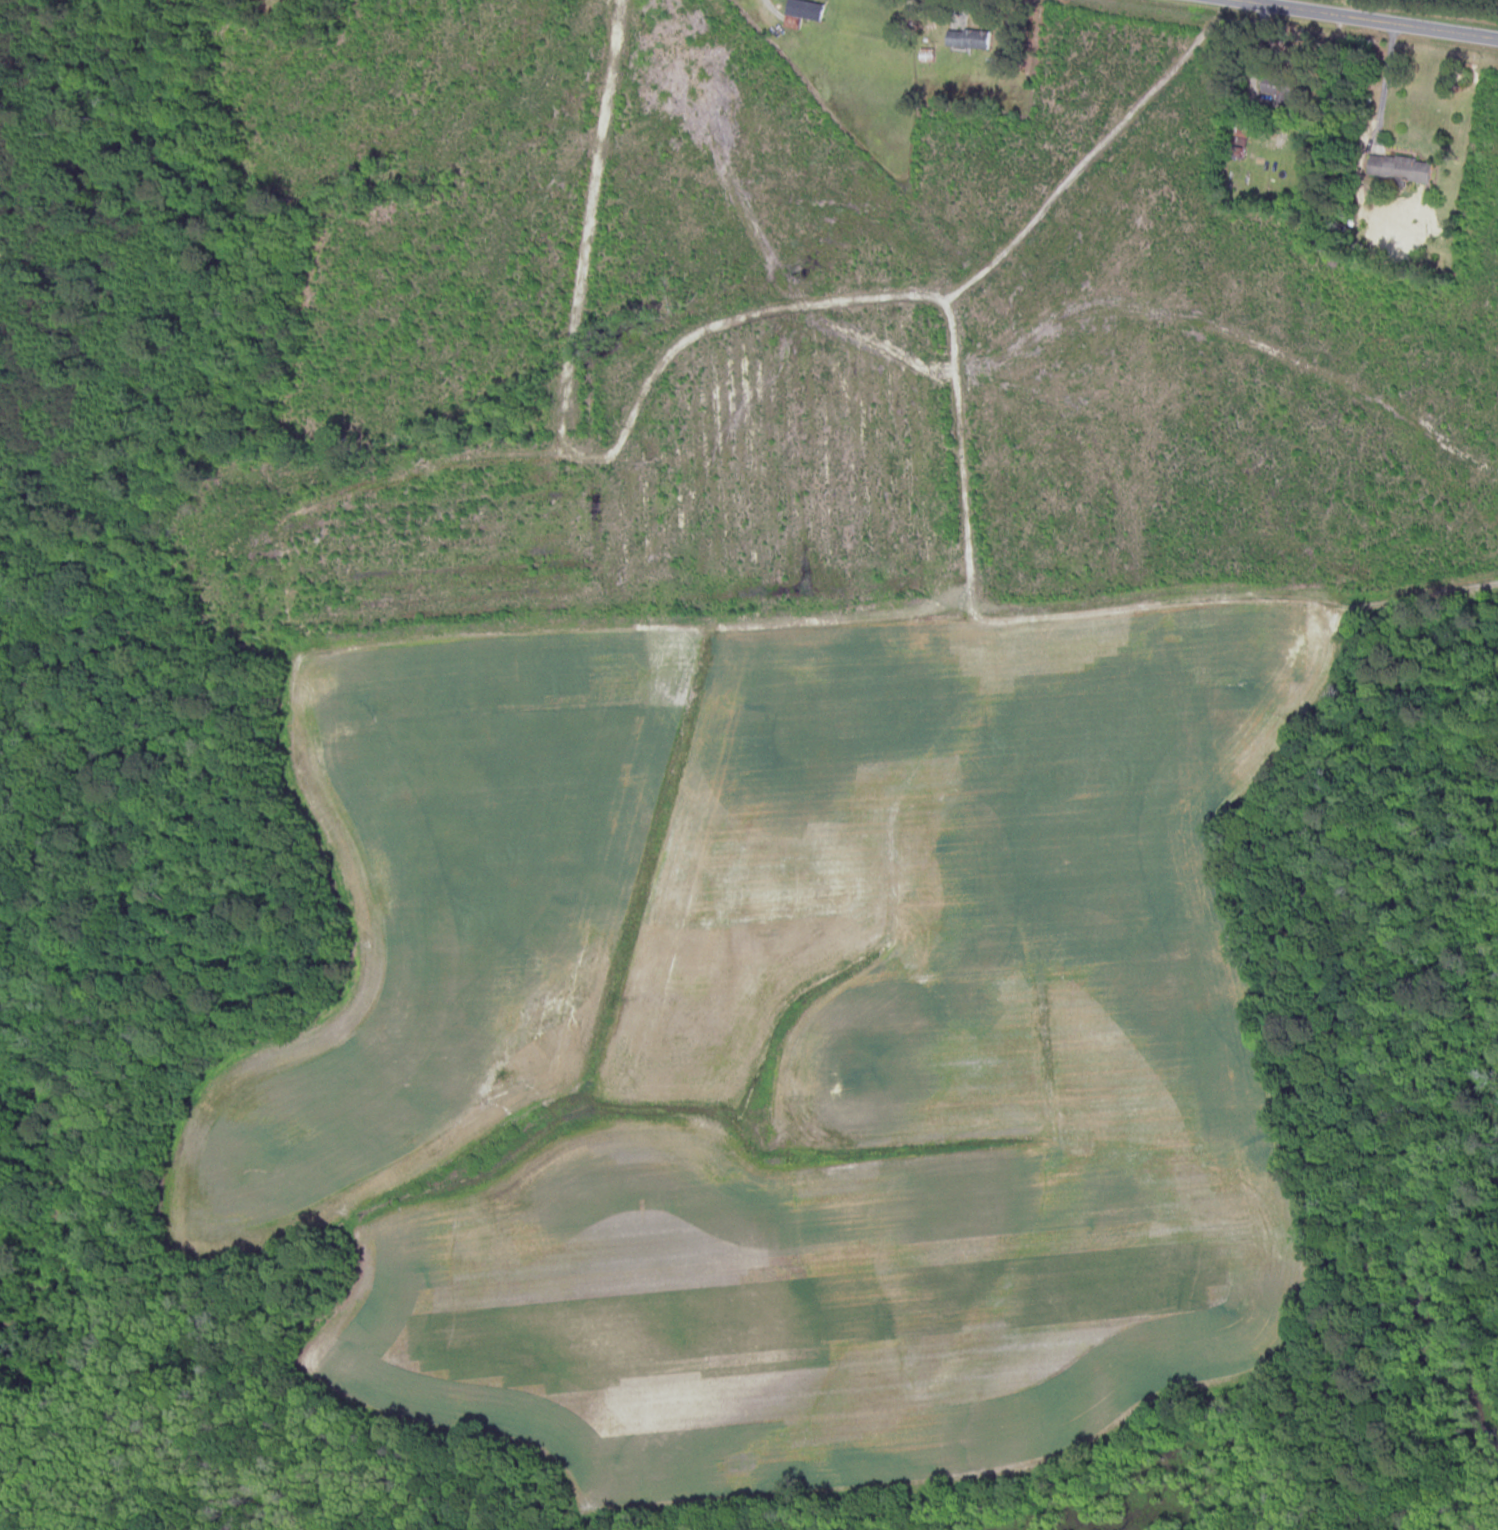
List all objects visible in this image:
road: (770, 8)
building: (803, 10)
road: (1371, 18)
building: (967, 39)
road: (1384, 83)
building: (1276, 89)
building: (1398, 169)
park: (7, 740)
park: (29, 1040)
park: (80, 1324)

